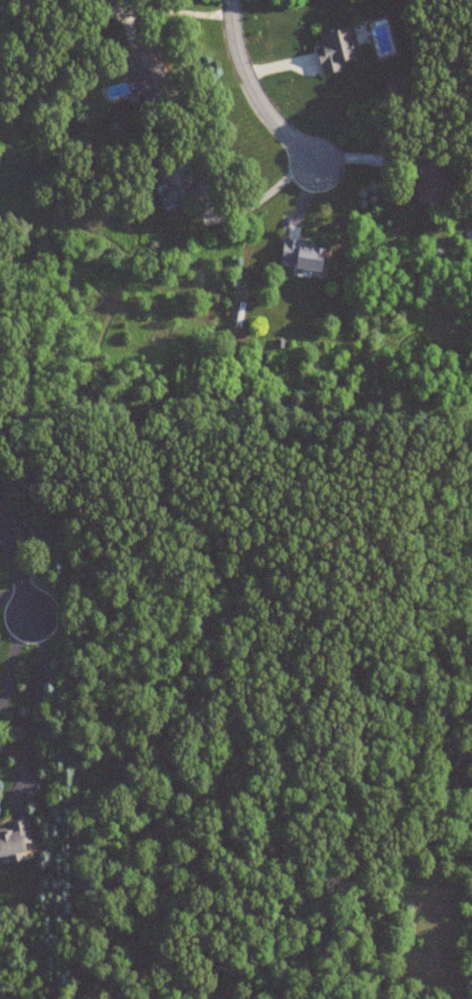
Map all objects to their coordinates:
building: (101, 5)
building: (336, 48)
building: (148, 78)
road: (256, 94)
building: (430, 183)
building: (181, 186)
road: (266, 195)
building: (303, 256)
road: (16, 565)
road: (10, 665)
road: (33, 717)
building: (14, 840)

